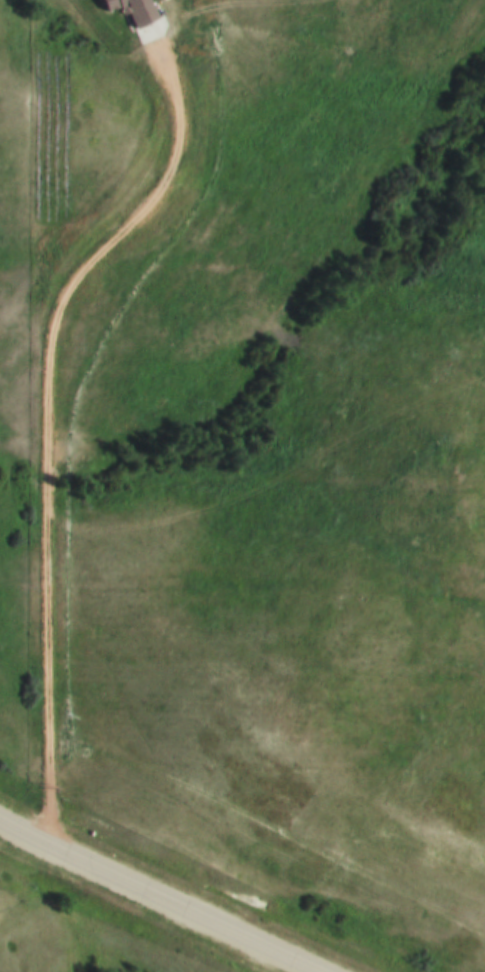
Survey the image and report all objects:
road: (158, 899)

